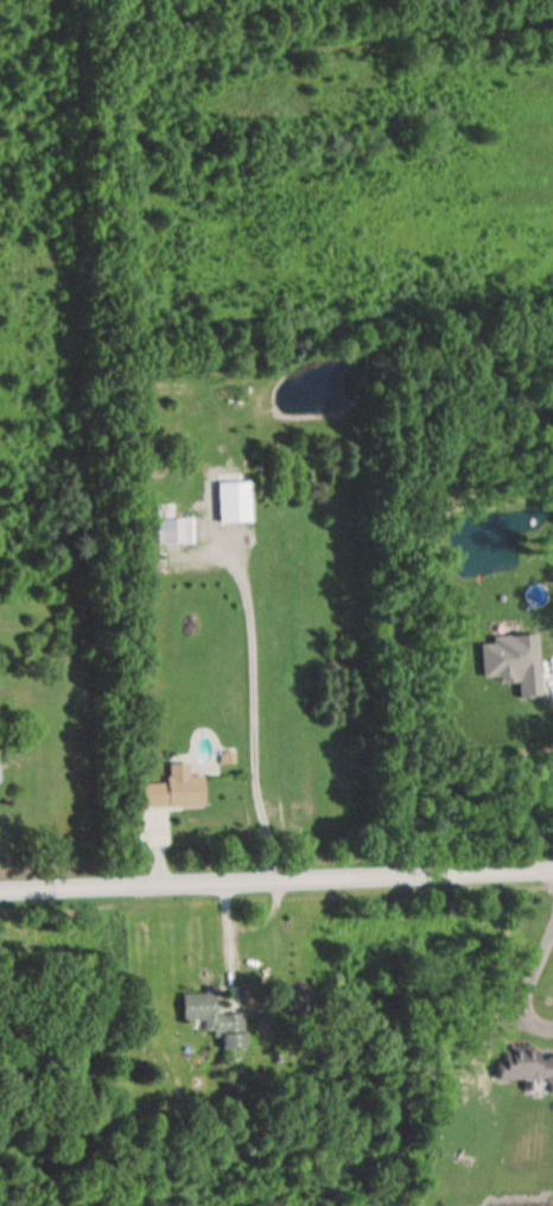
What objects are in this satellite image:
building: (170, 526)
building: (173, 791)
road: (275, 882)
road: (246, 928)
road: (527, 985)
building: (212, 1018)
building: (525, 1067)

